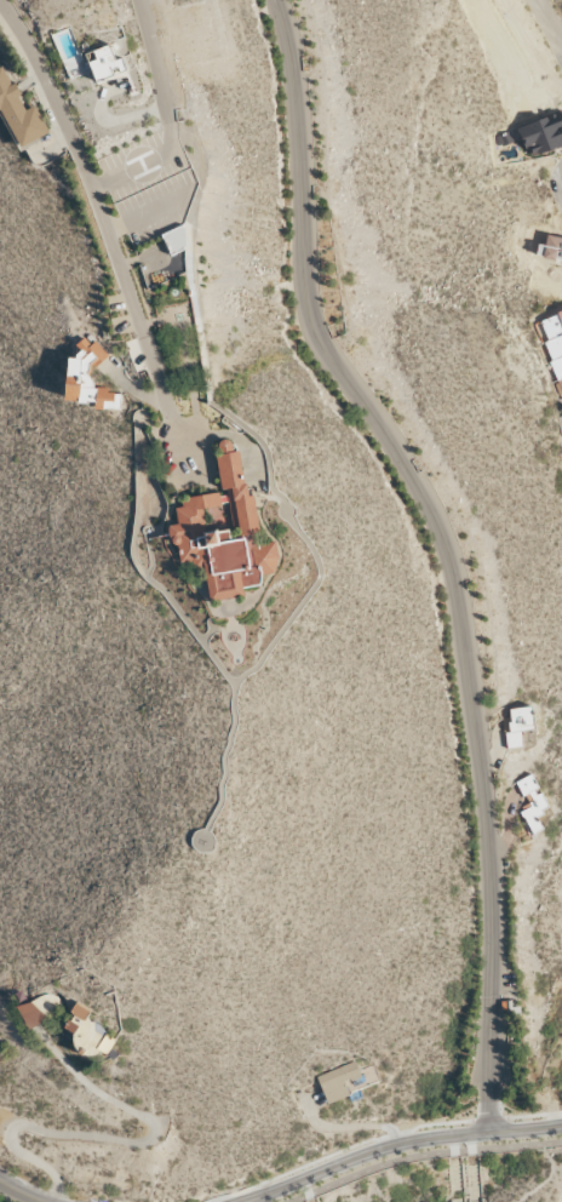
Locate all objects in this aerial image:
road: (549, 21)
road: (157, 57)
building: (107, 63)
building: (19, 113)
road: (98, 201)
building: (176, 239)
building: (550, 248)
building: (552, 342)
building: (88, 378)
building: (560, 423)
road: (419, 486)
building: (224, 532)
building: (517, 725)
building: (532, 802)
building: (39, 1009)
building: (87, 1030)
road: (493, 1064)
building: (338, 1081)
road: (534, 1115)
road: (489, 1120)
road: (113, 1138)
road: (400, 1141)
road: (334, 1151)
road: (423, 1155)
road: (544, 1178)
park: (463, 1180)
road: (21, 1192)
road: (264, 1192)
road: (240, 1201)
road: (248, 1201)

